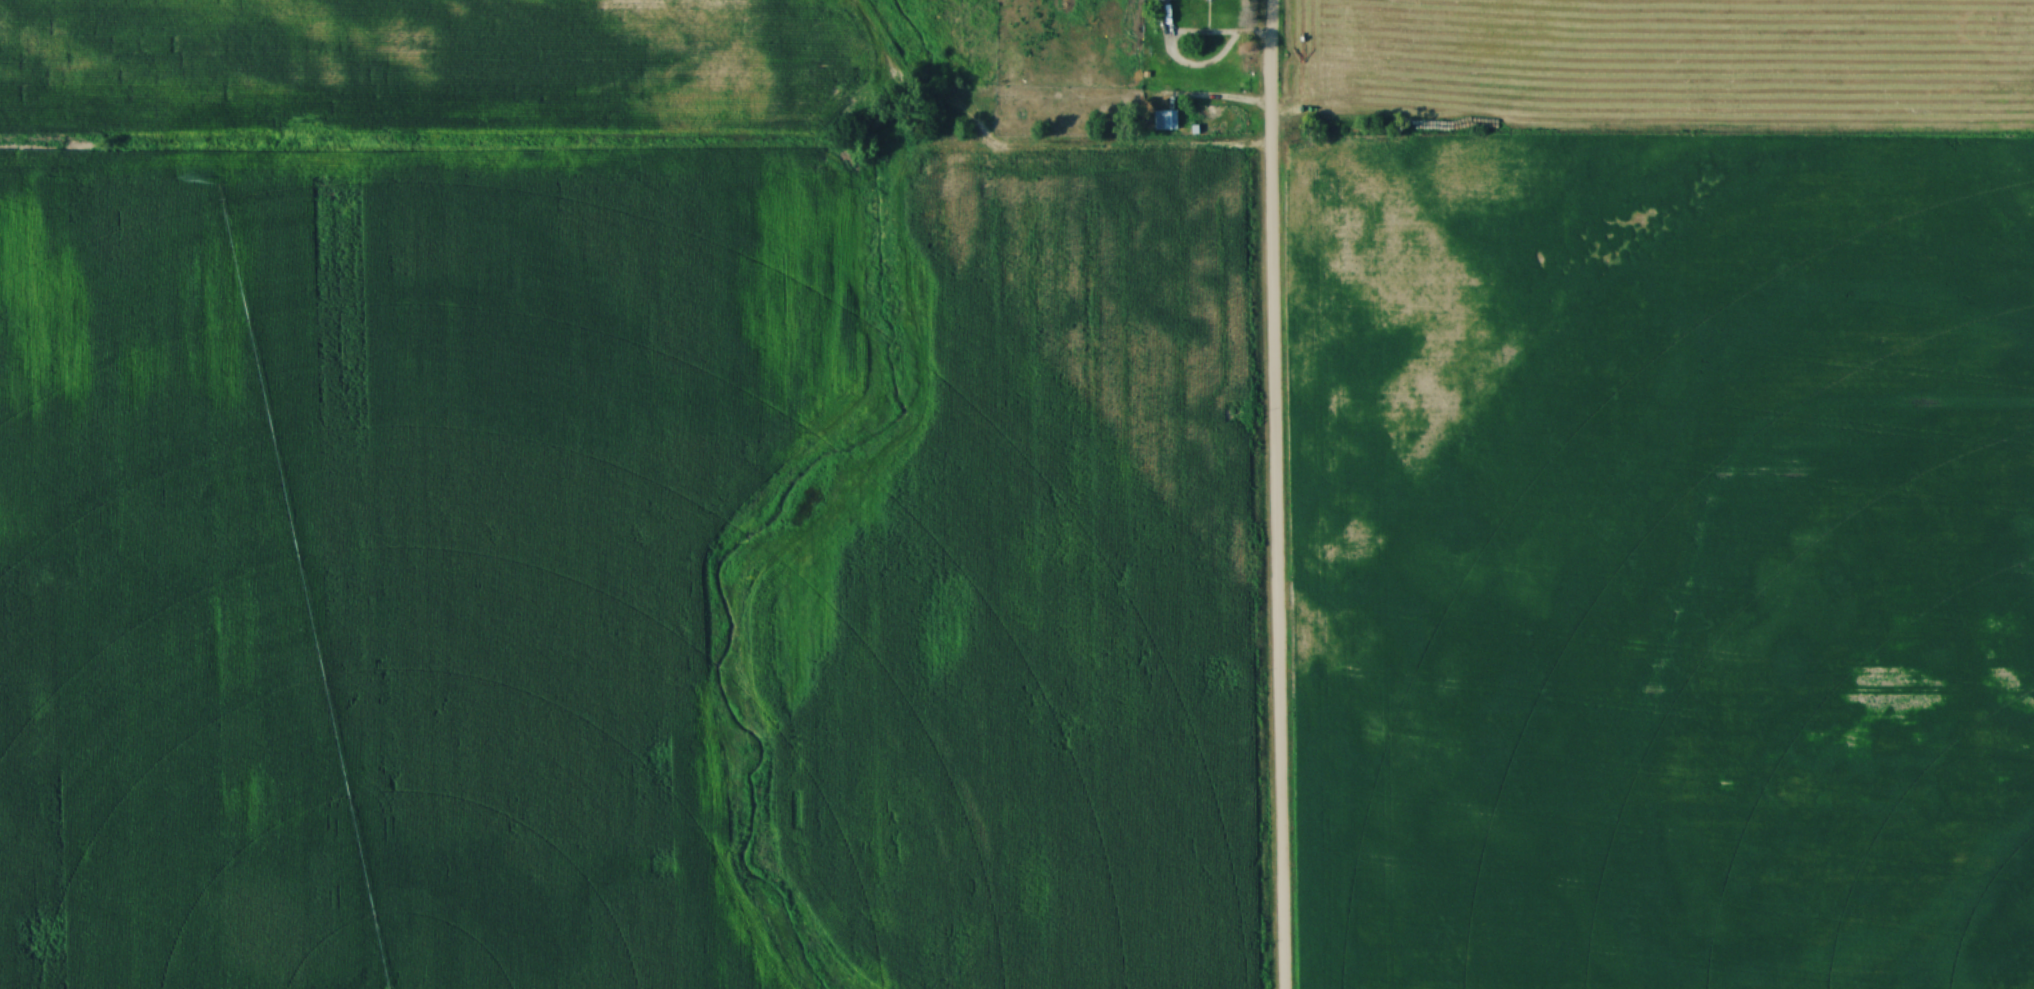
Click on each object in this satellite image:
road: (1253, 38)
road: (1162, 44)
building: (1165, 120)
road: (1271, 494)

